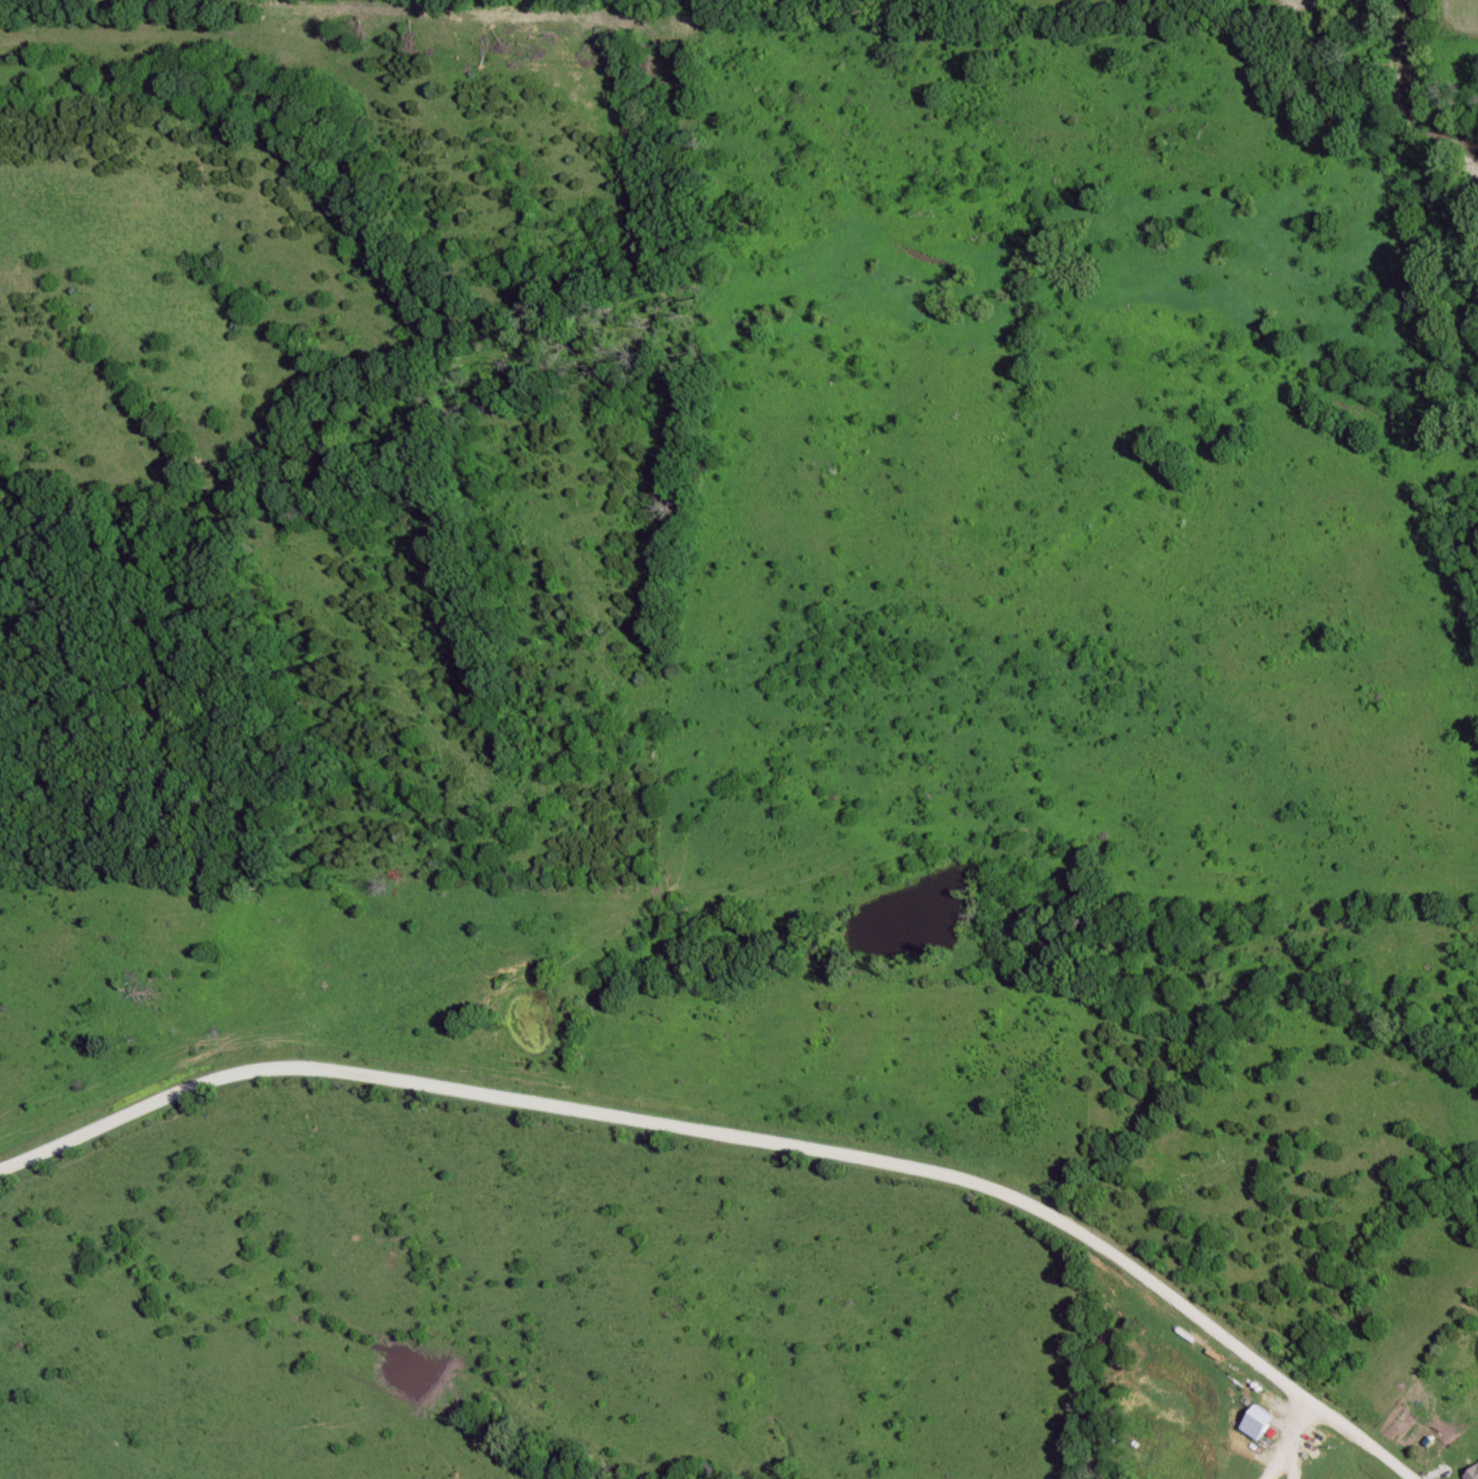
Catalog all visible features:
road: (736, 1141)
building: (1256, 1422)
building: (1472, 1473)

